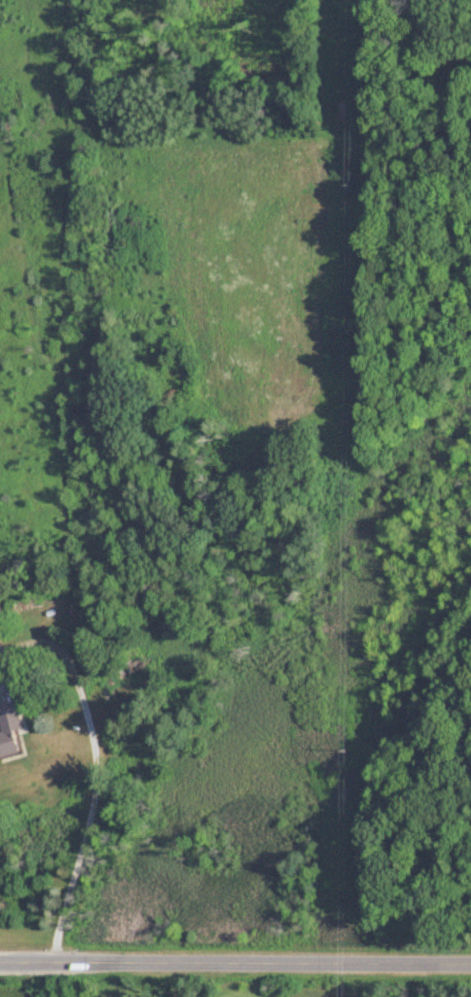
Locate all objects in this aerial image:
road: (0, 689)
building: (9, 736)
road: (94, 778)
road: (235, 962)
park: (169, 990)

